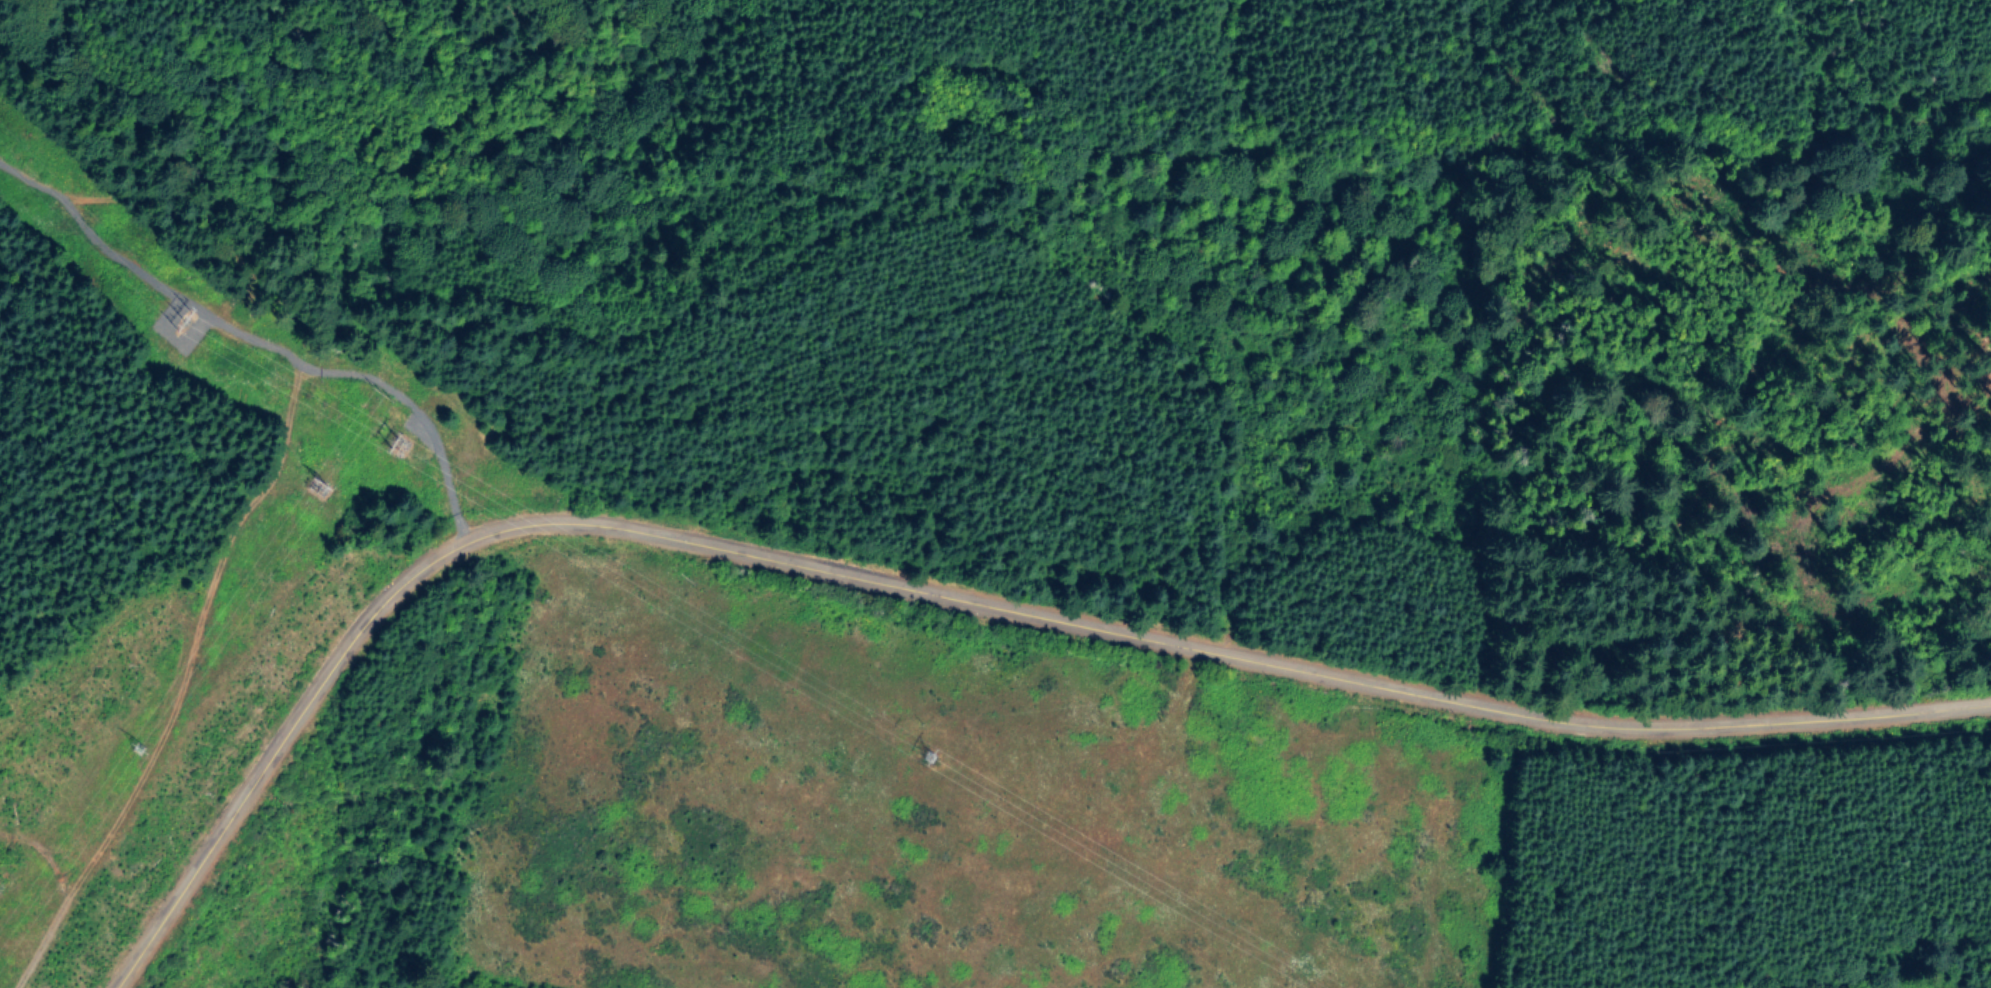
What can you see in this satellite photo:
power tower: (174, 310)
power tower: (387, 433)
road: (252, 518)
road: (940, 597)
power tower: (919, 747)
road: (46, 856)

